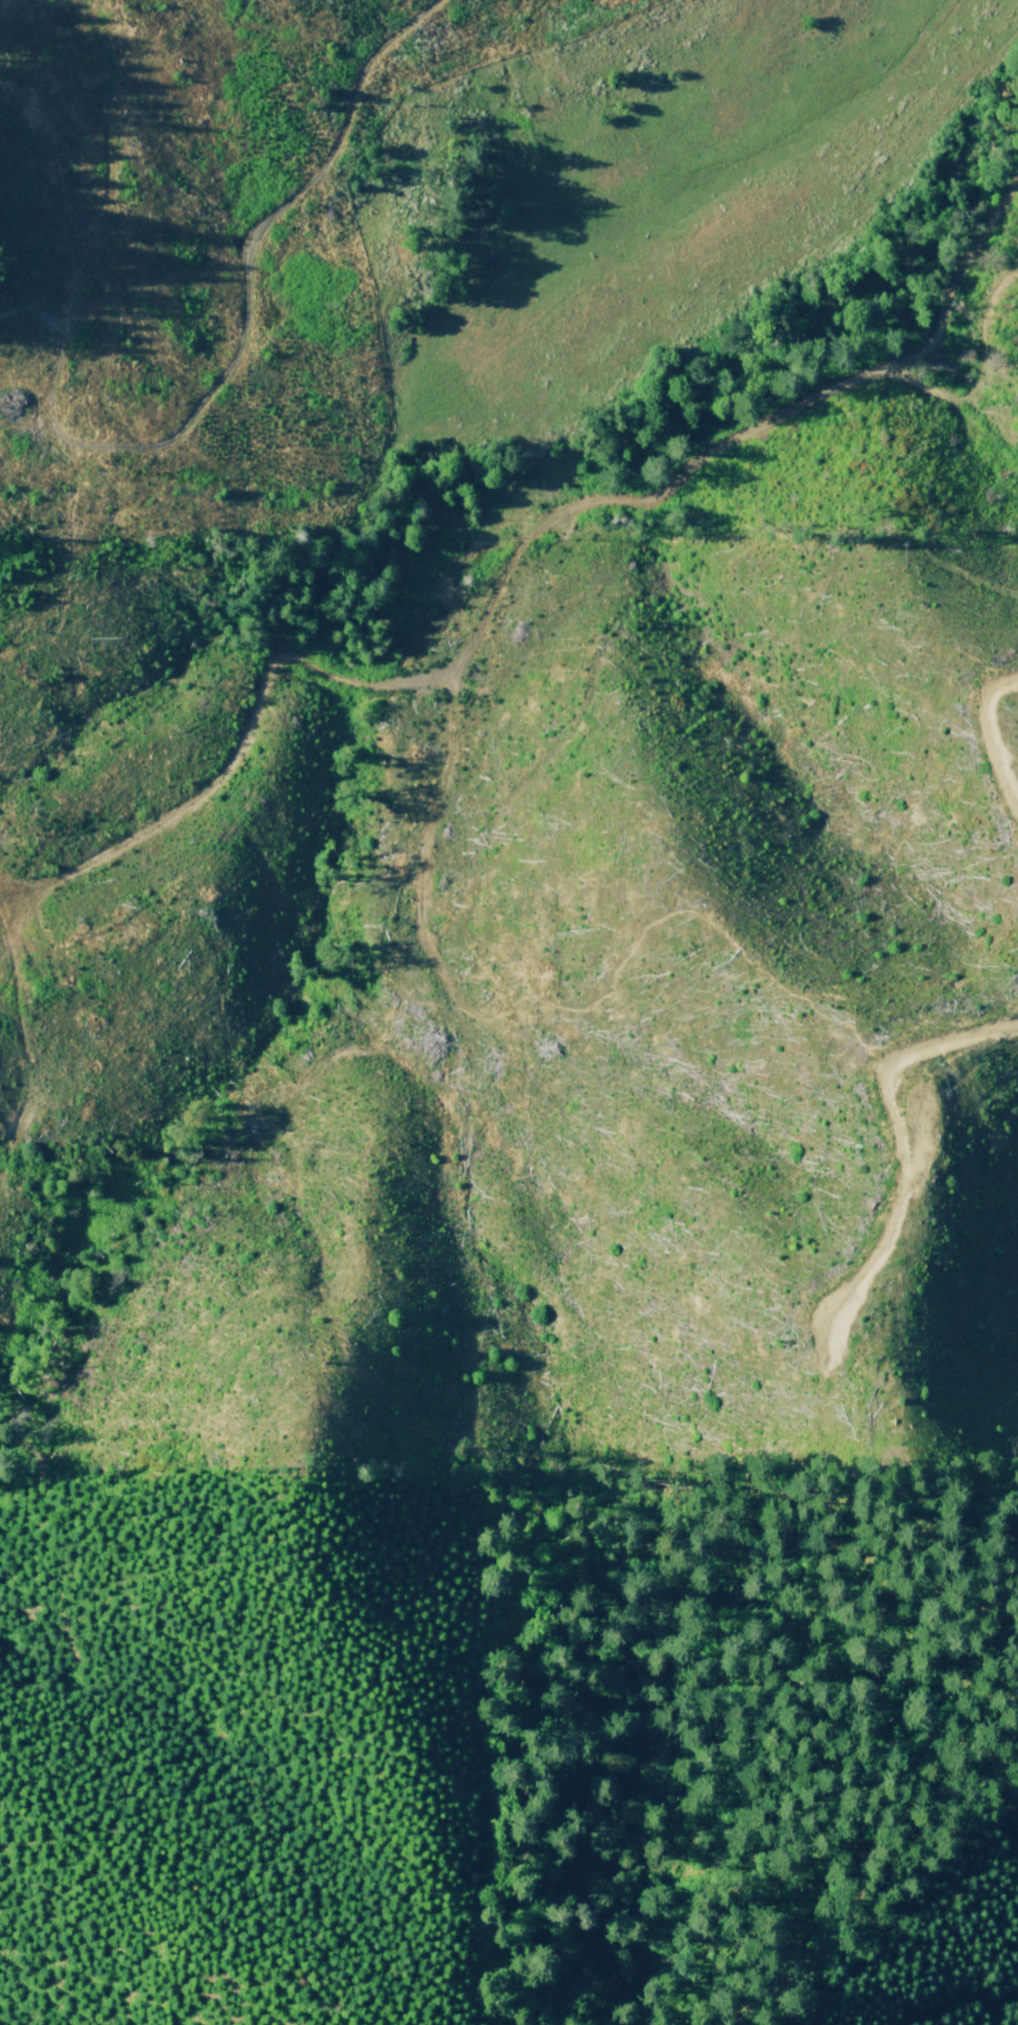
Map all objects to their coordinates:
road: (955, 2002)

